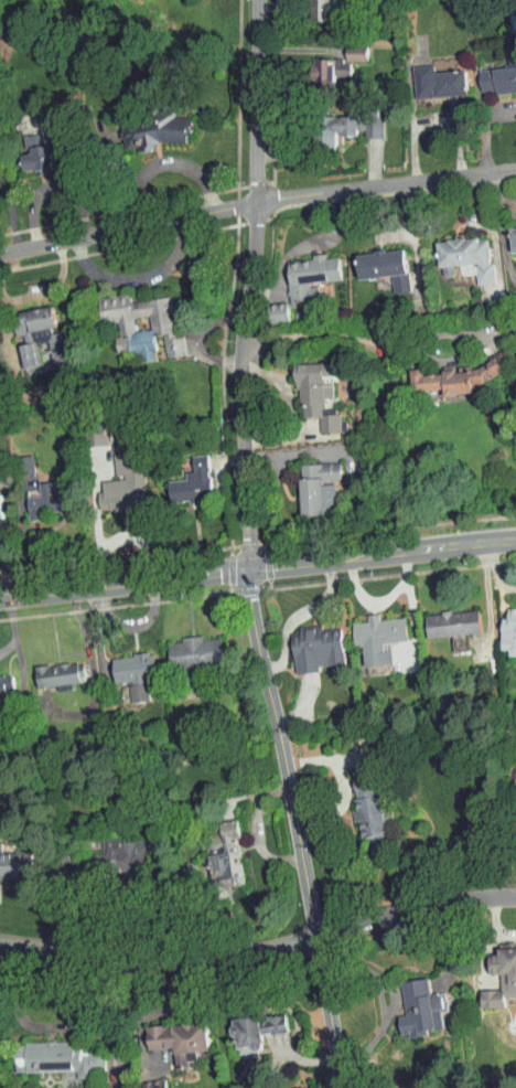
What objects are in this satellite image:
building: (312, 7)
building: (346, 45)
building: (320, 62)
building: (492, 72)
building: (428, 75)
building: (343, 119)
building: (144, 122)
building: (28, 147)
road: (389, 183)
road: (131, 224)
building: (508, 232)
building: (455, 252)
building: (375, 260)
road: (126, 271)
building: (298, 274)
road: (252, 284)
building: (131, 319)
building: (30, 329)
road: (344, 333)
building: (453, 370)
building: (307, 387)
building: (183, 476)
building: (115, 477)
building: (310, 481)
building: (37, 494)
road: (257, 566)
traffic signals: (248, 568)
building: (443, 617)
building: (506, 621)
road: (12, 626)
building: (369, 631)
building: (307, 641)
building: (185, 646)
building: (50, 668)
building: (125, 668)
building: (1, 680)
building: (515, 790)
building: (359, 803)
road: (300, 826)
building: (214, 844)
building: (115, 847)
building: (11, 858)
road: (259, 951)
building: (497, 970)
building: (417, 1001)
building: (248, 1024)
road: (49, 1026)
building: (170, 1031)
building: (51, 1053)
building: (144, 1081)

